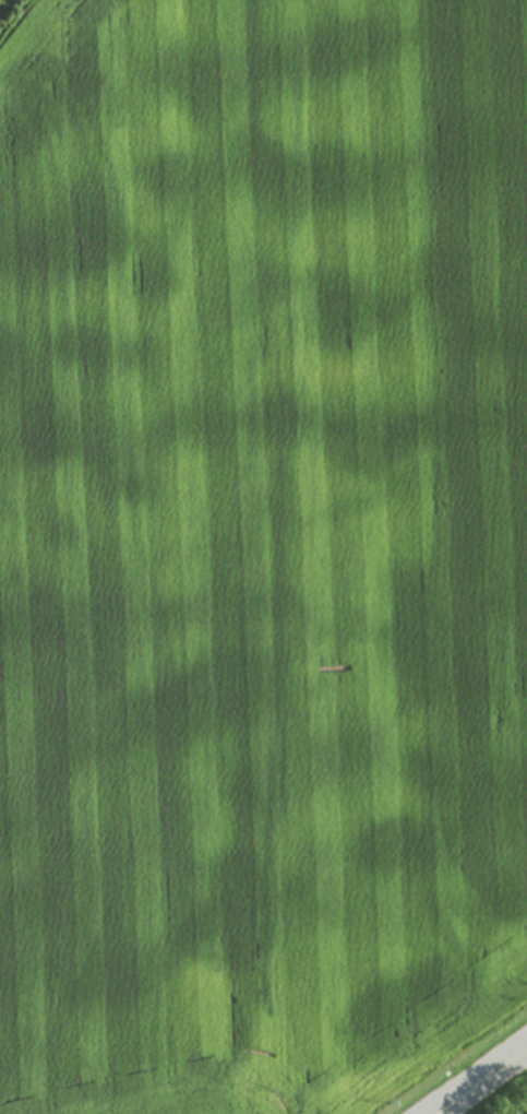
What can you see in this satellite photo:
road: (480, 1080)

